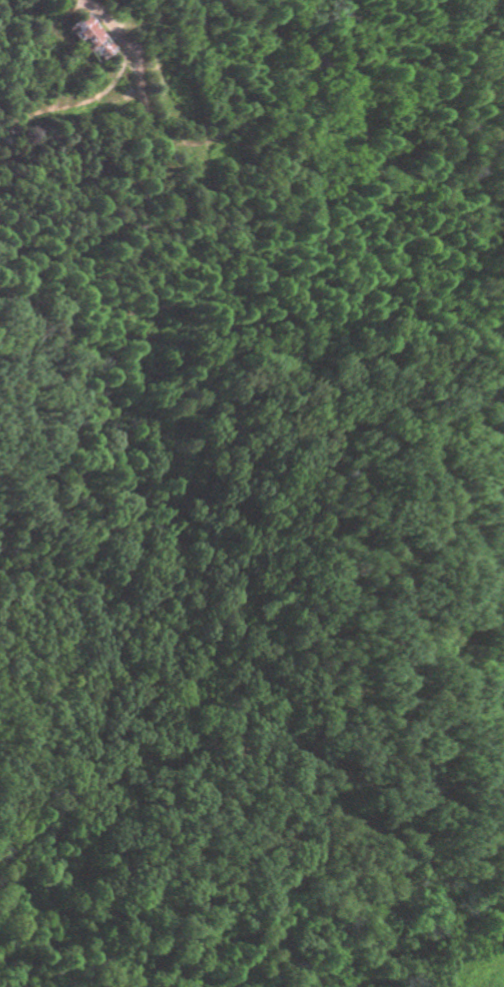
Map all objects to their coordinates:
building: (91, 41)

